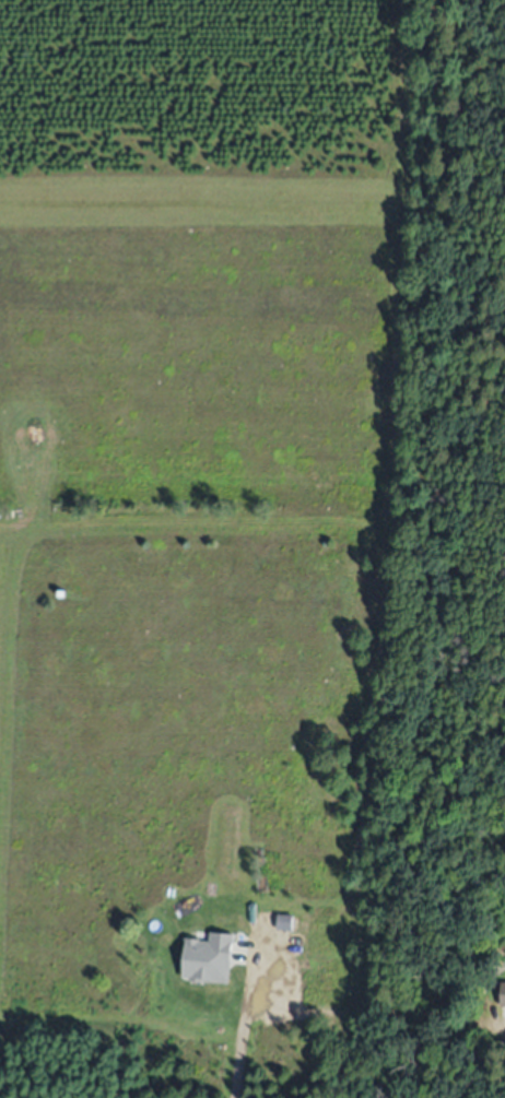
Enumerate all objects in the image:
building: (207, 912)
building: (285, 923)
building: (504, 996)
road: (244, 1014)

